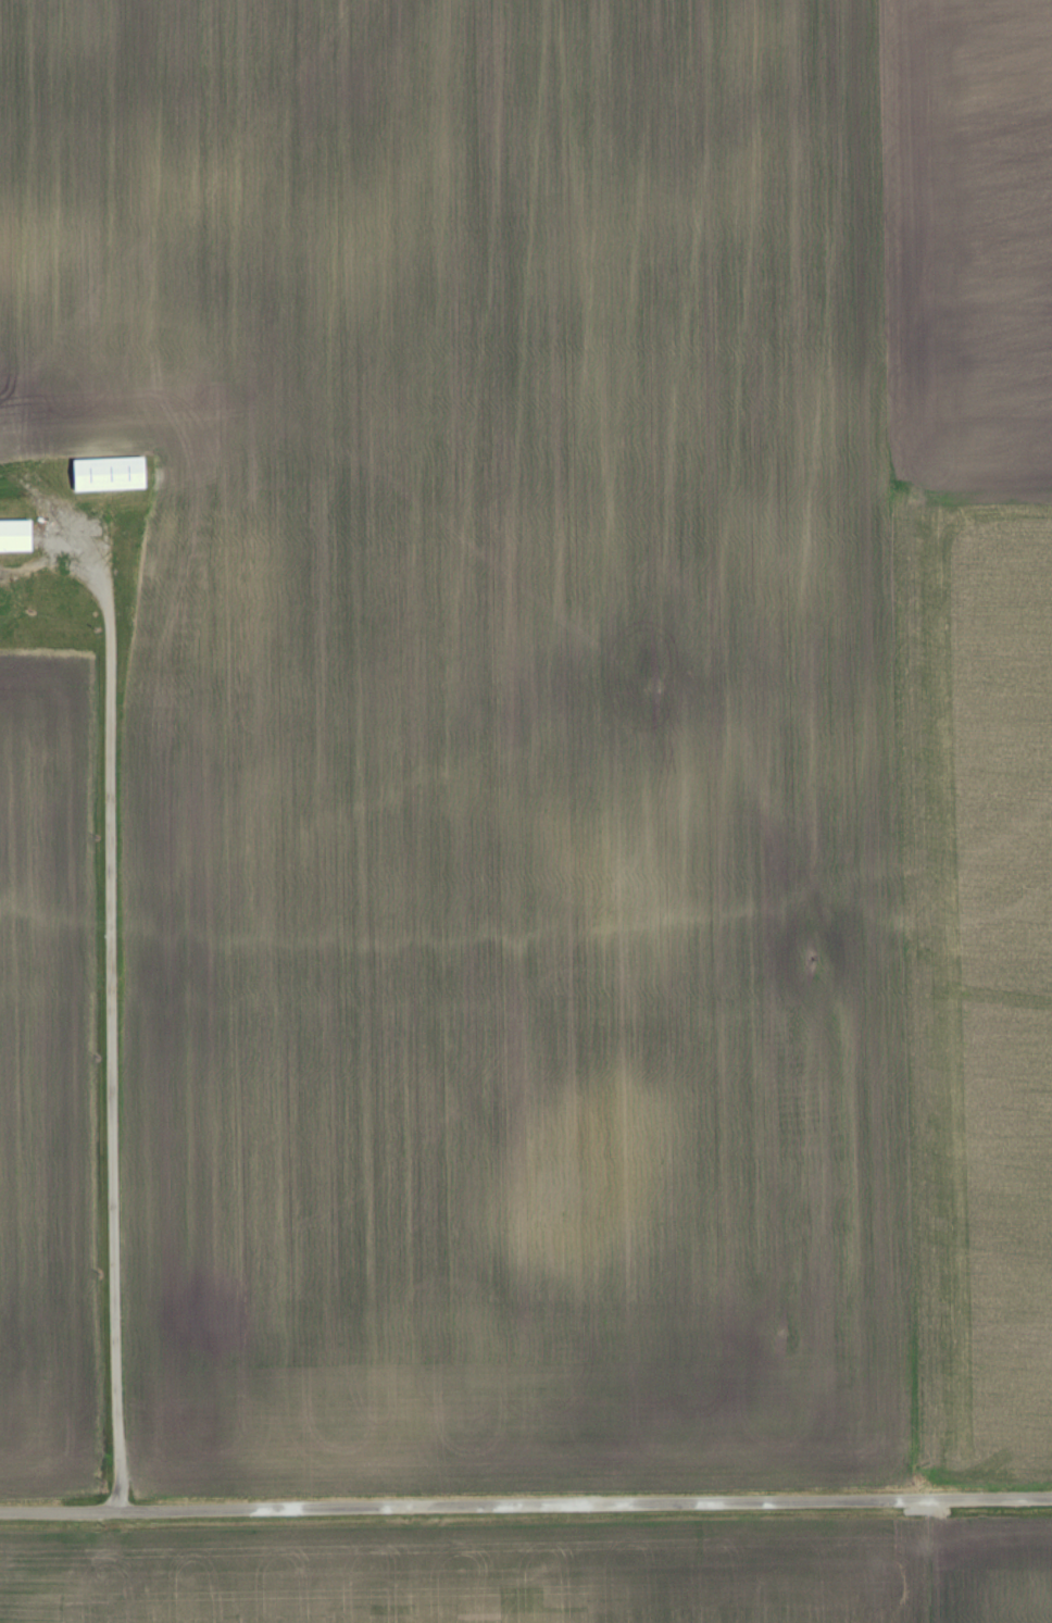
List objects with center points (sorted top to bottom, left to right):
crop: (567, 722)
road: (110, 1031)
crop: (47, 1079)
road: (525, 1512)
crop: (540, 1574)

